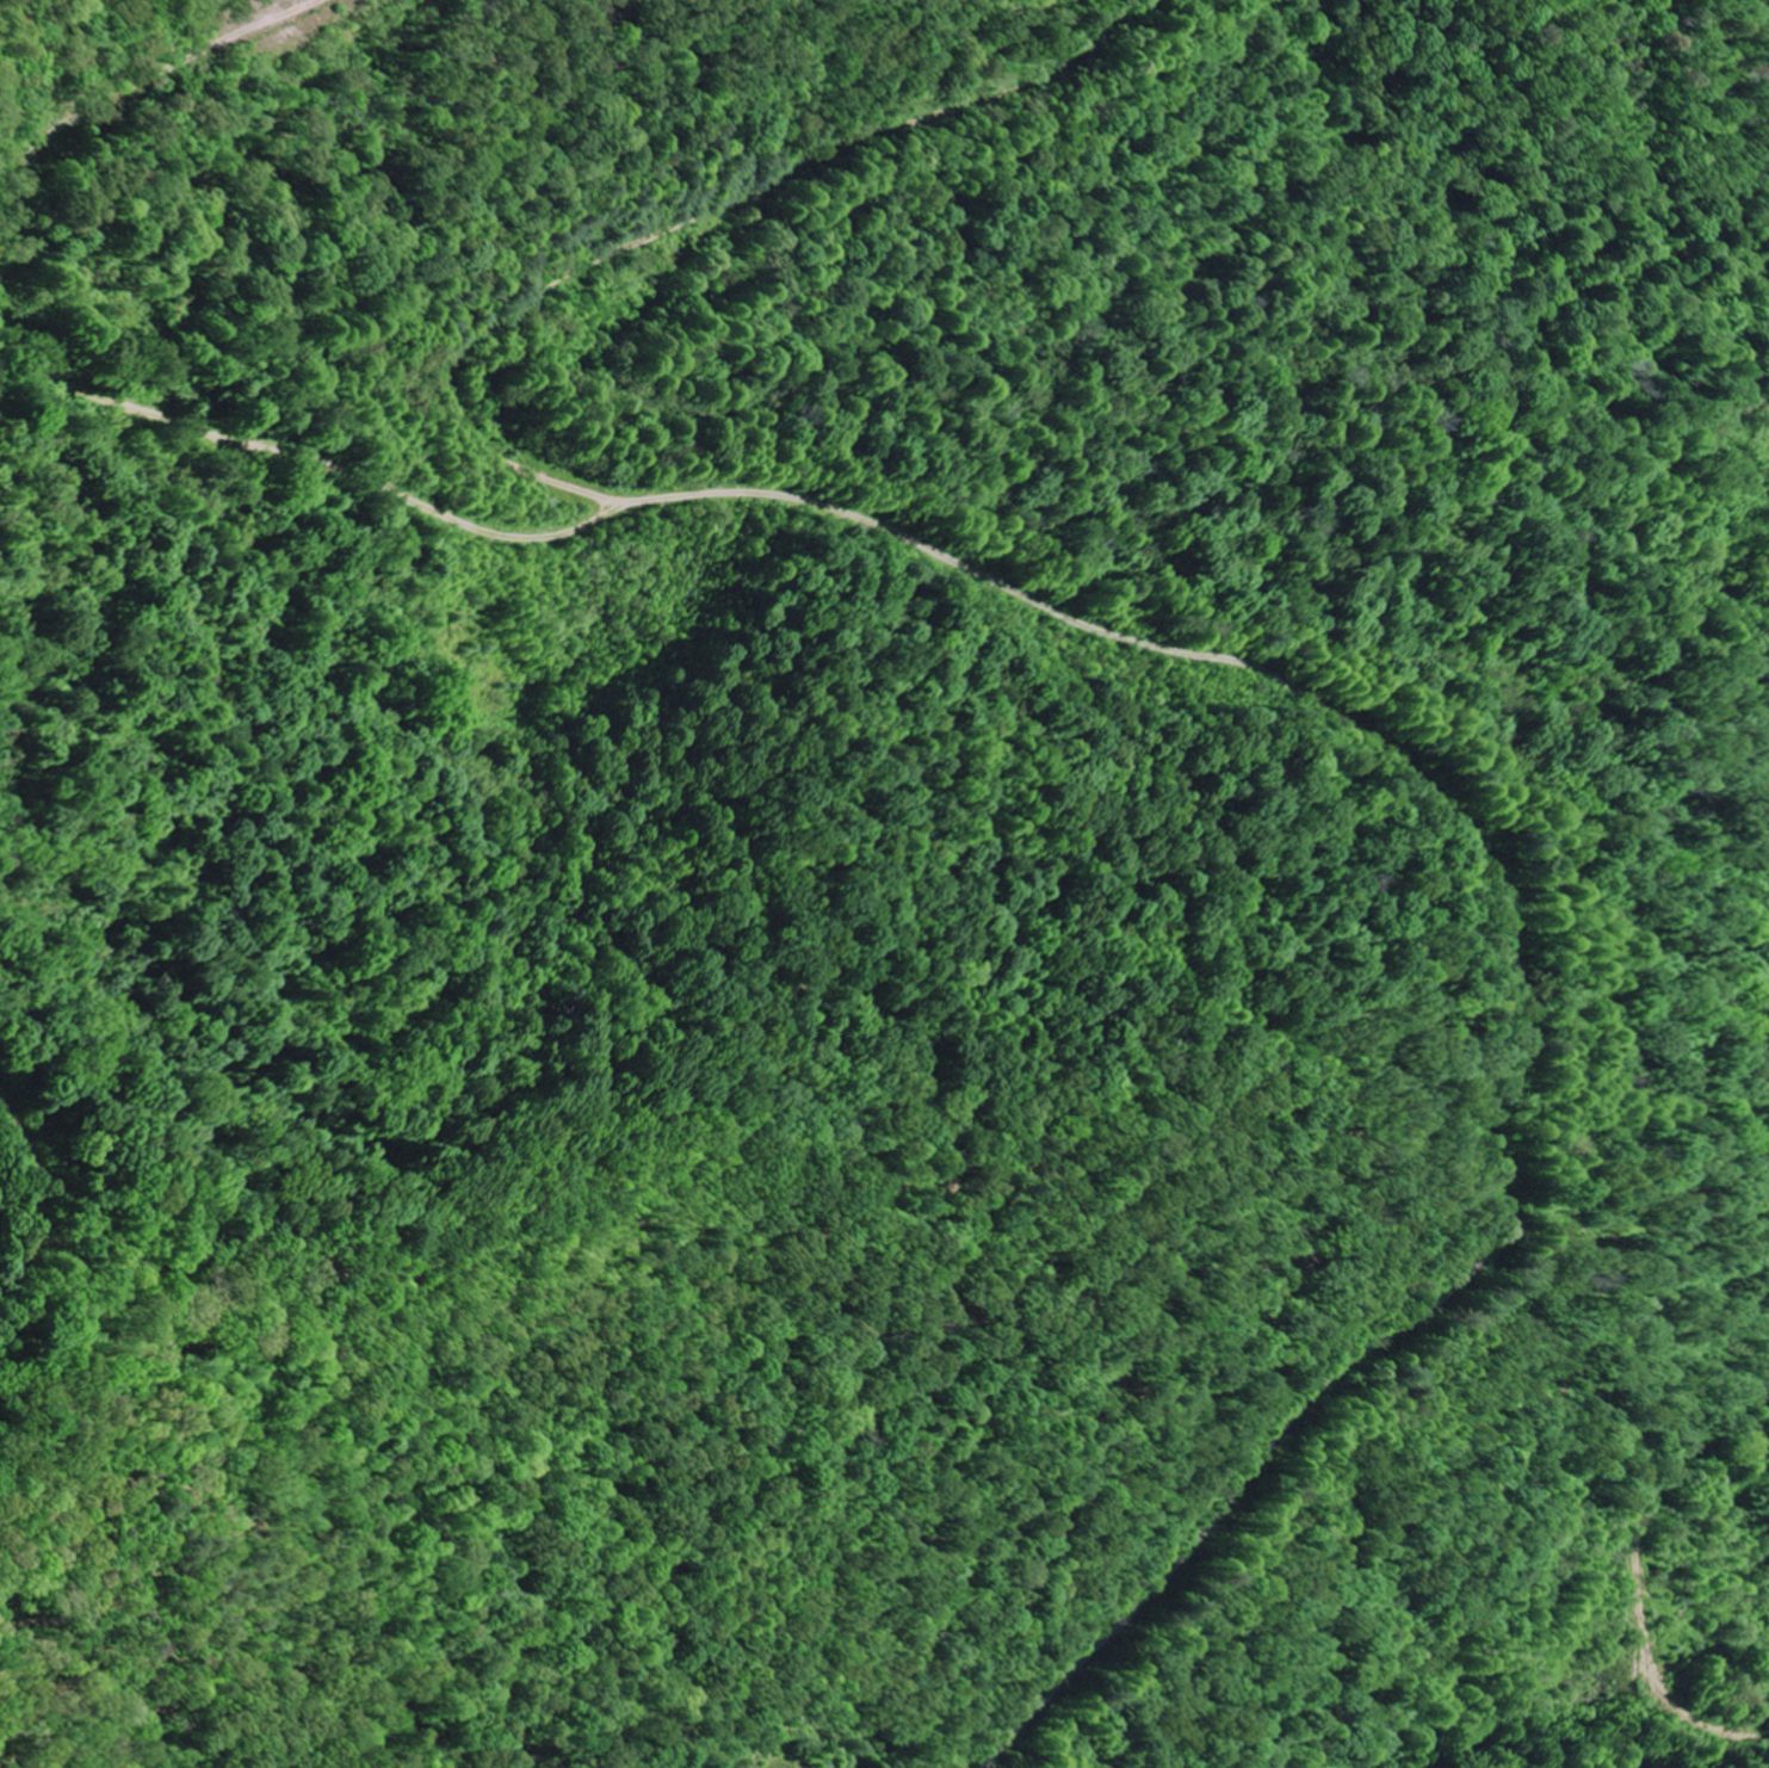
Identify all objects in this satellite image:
road: (1755, 1520)

